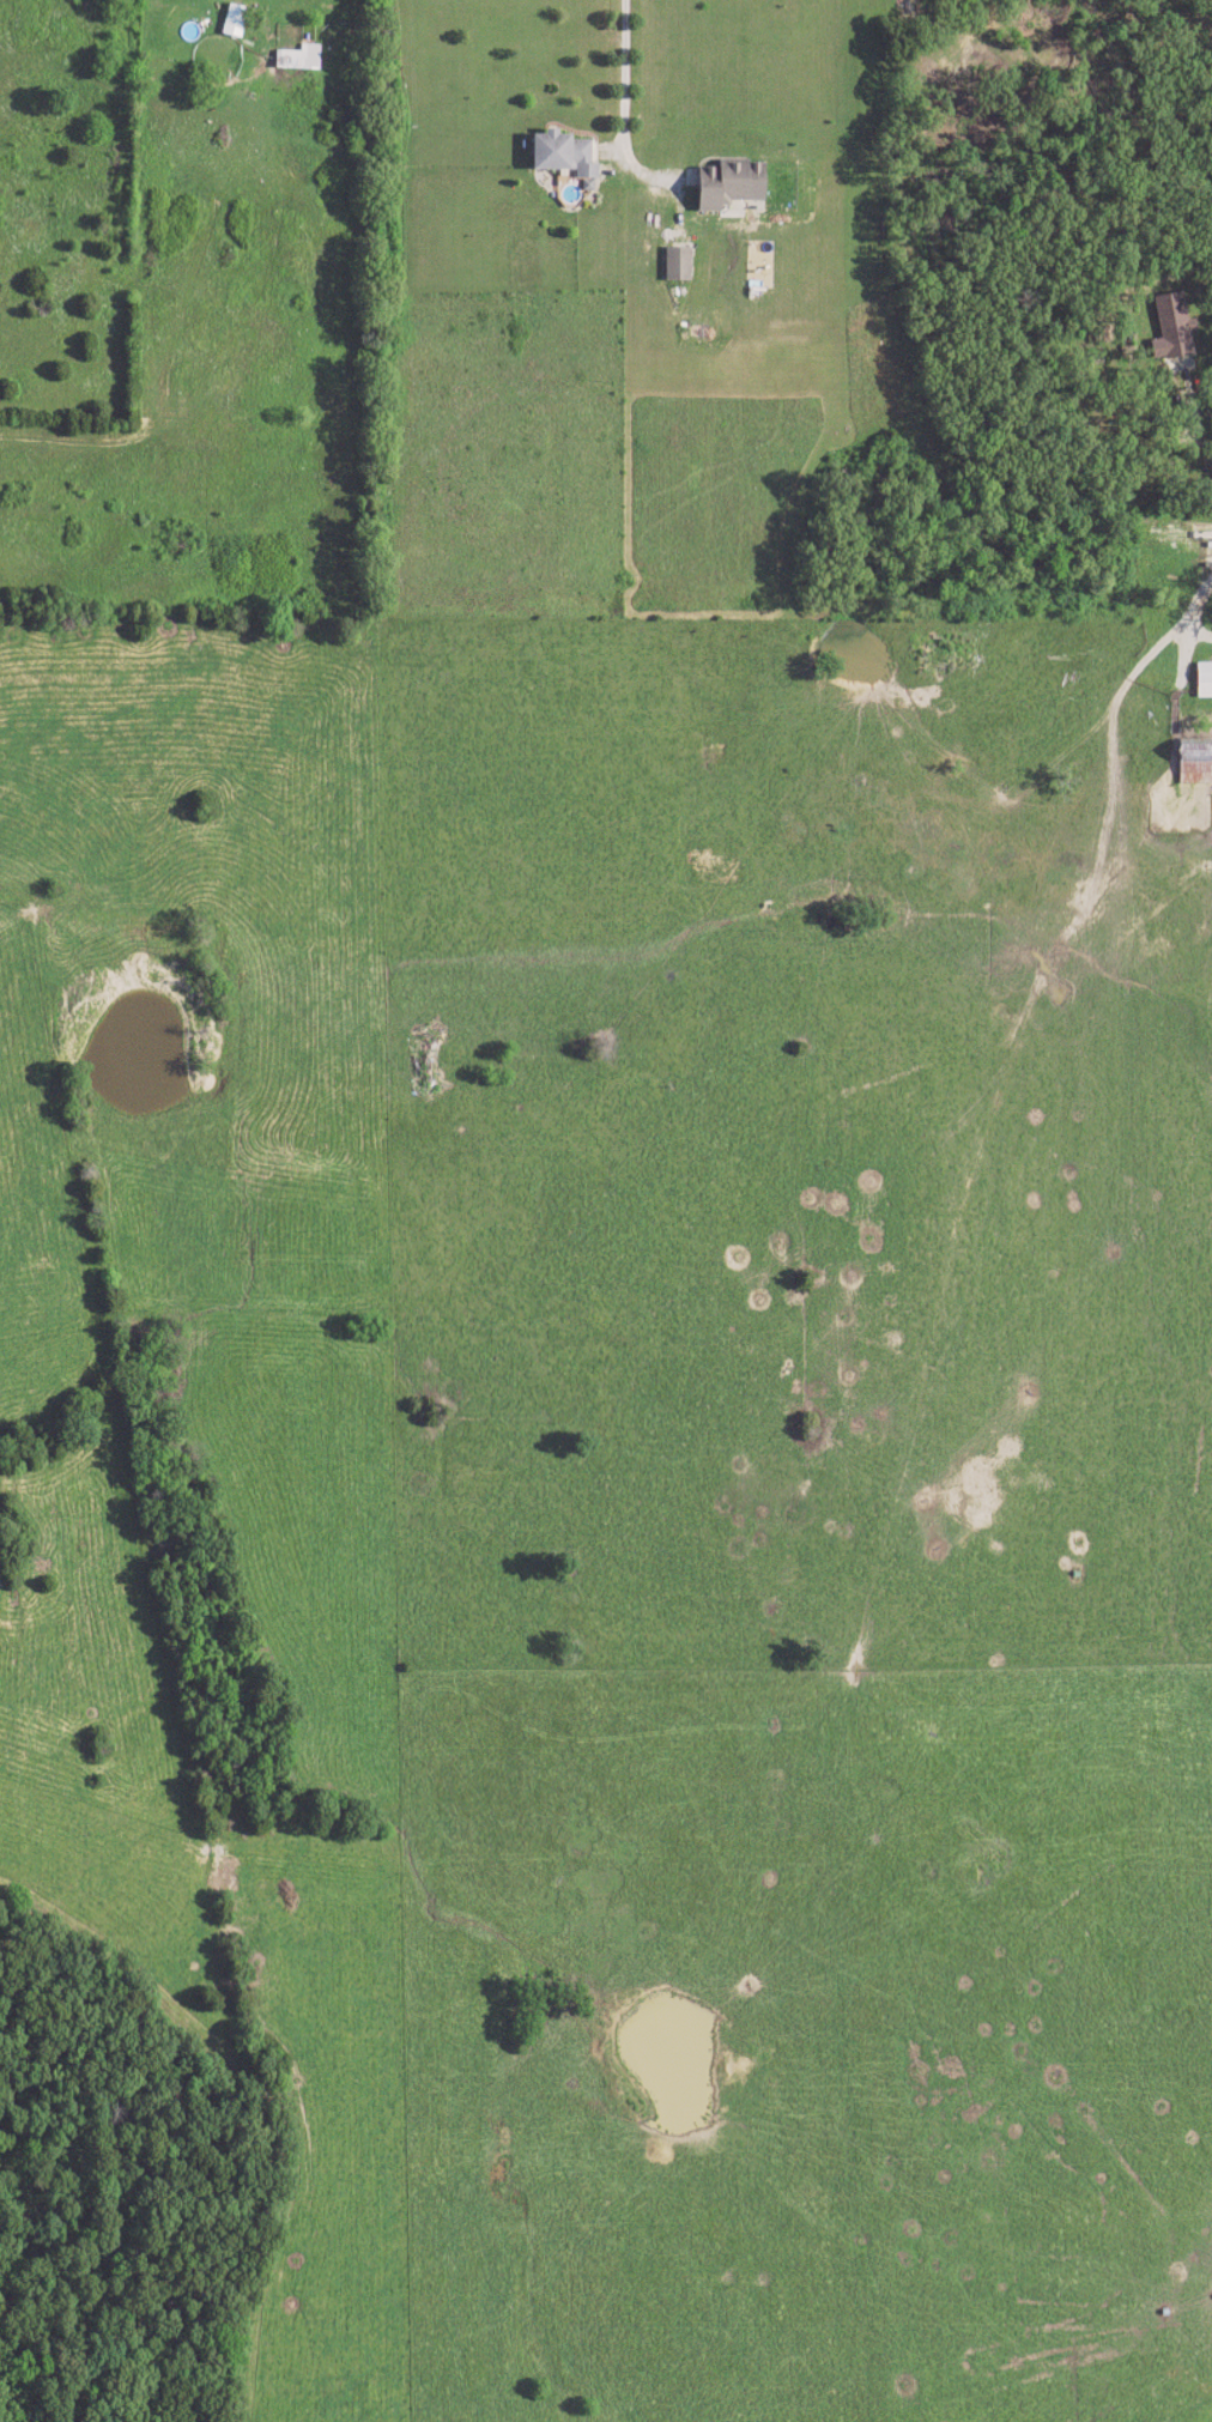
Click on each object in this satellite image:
building: (232, 22)
building: (298, 59)
road: (255, 61)
road: (626, 72)
building: (562, 156)
building: (728, 184)
building: (678, 265)
building: (1169, 328)
road: (1190, 612)
building: (1204, 680)

